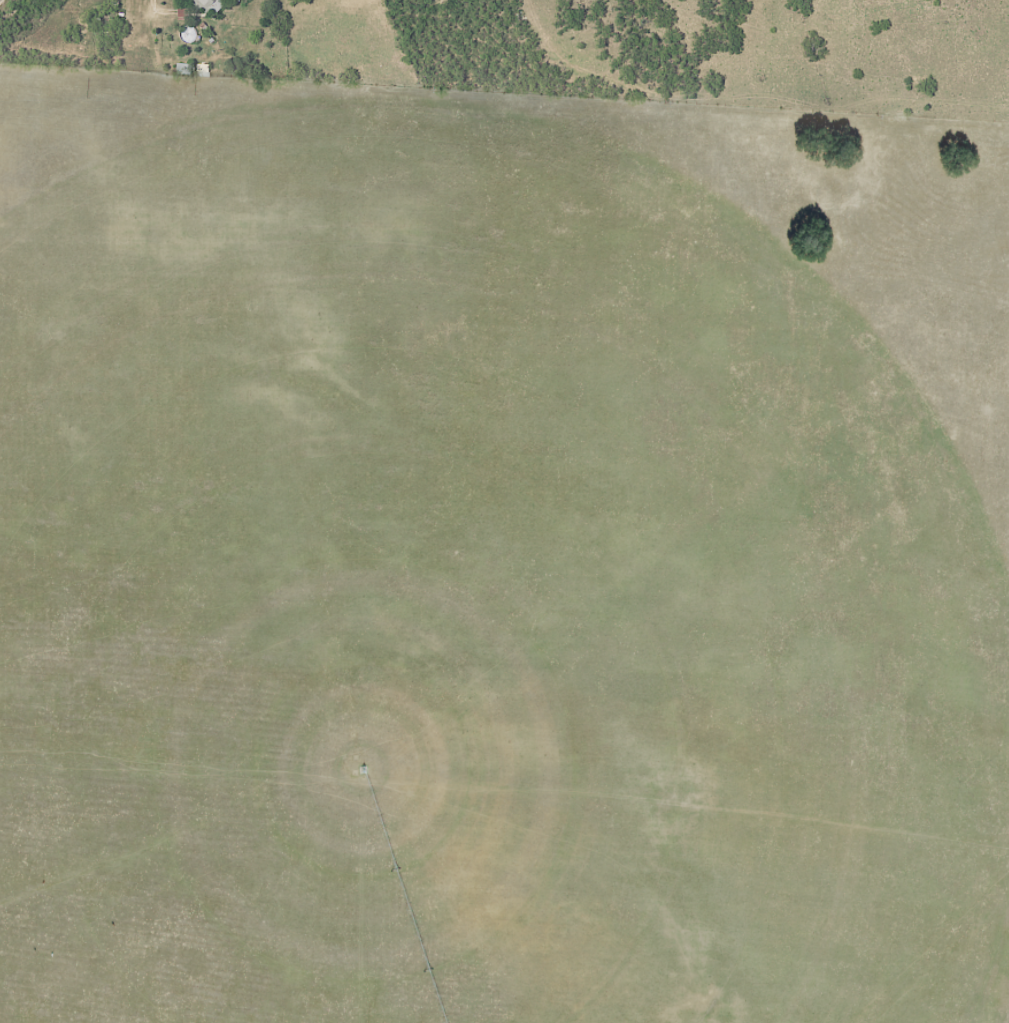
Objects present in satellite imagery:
building: (209, 6)
road: (150, 9)

